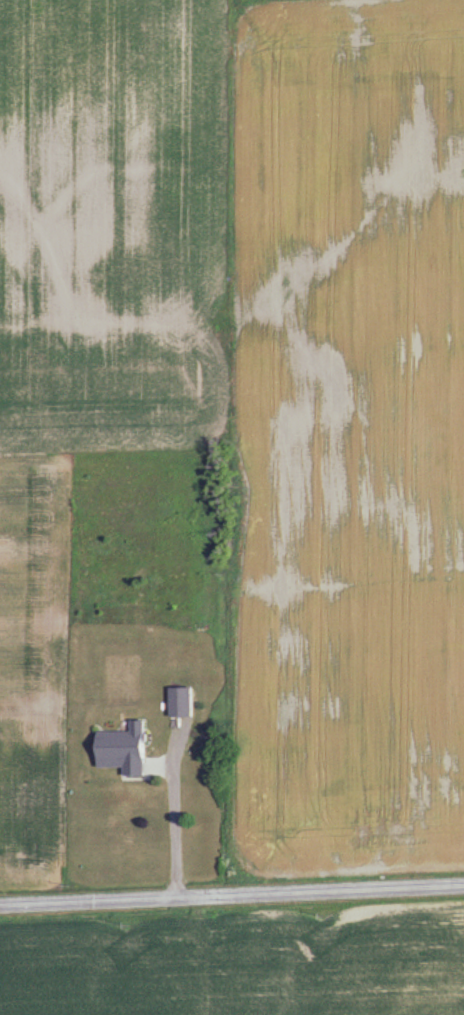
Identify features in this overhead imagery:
building: (176, 701)
building: (123, 748)
road: (176, 830)
road: (232, 899)

